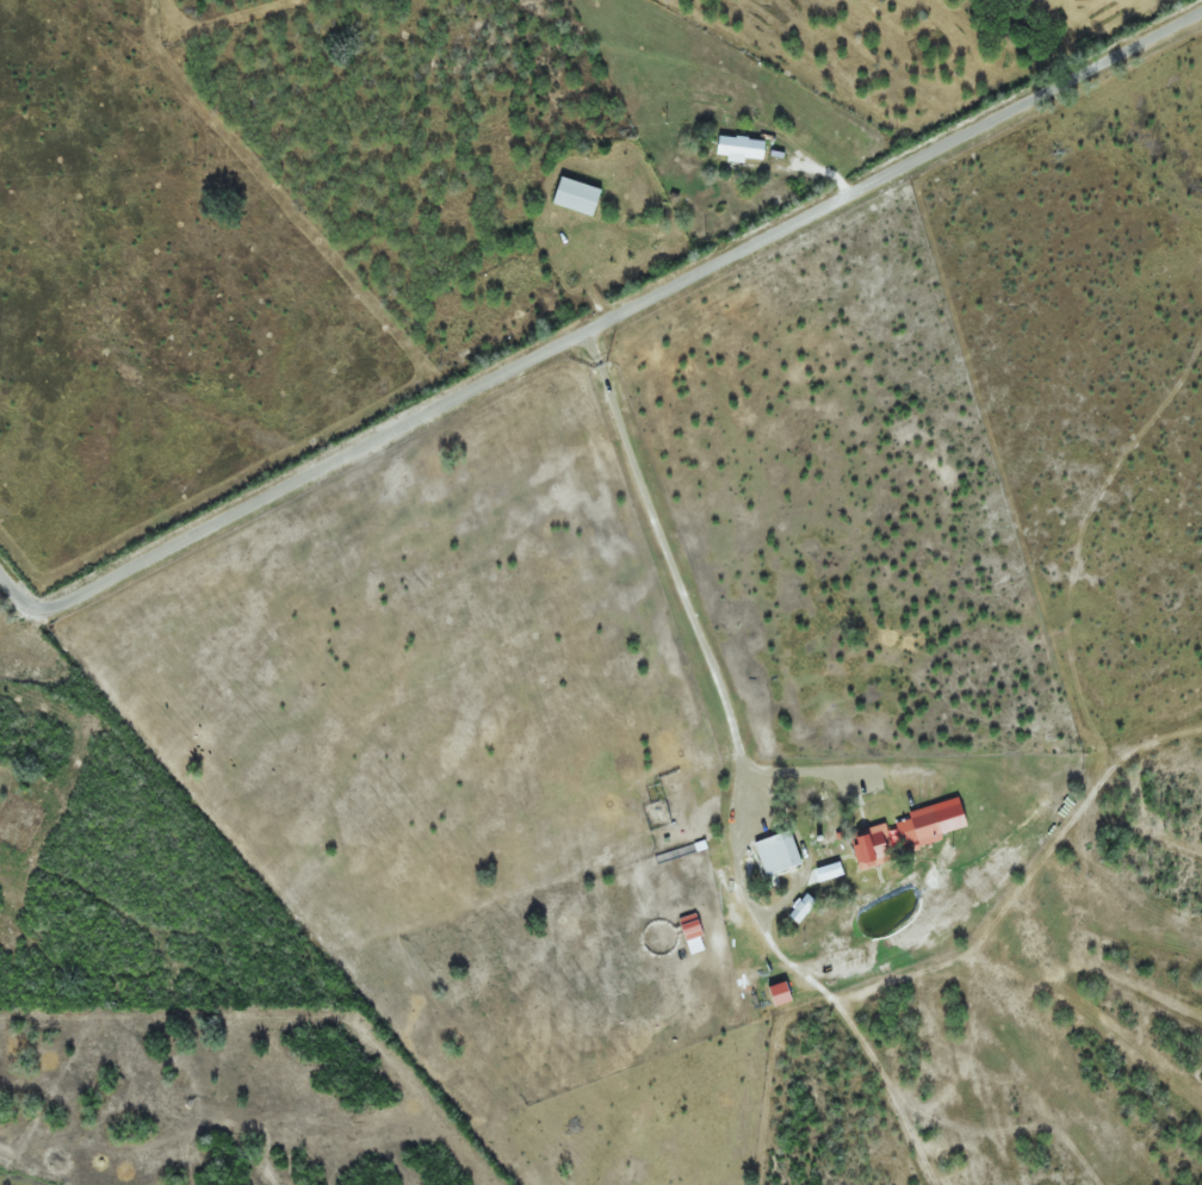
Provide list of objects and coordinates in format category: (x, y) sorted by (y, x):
building: (736, 148)
building: (571, 196)
road: (599, 322)
road: (674, 577)
building: (919, 825)
building: (868, 845)
building: (773, 851)

